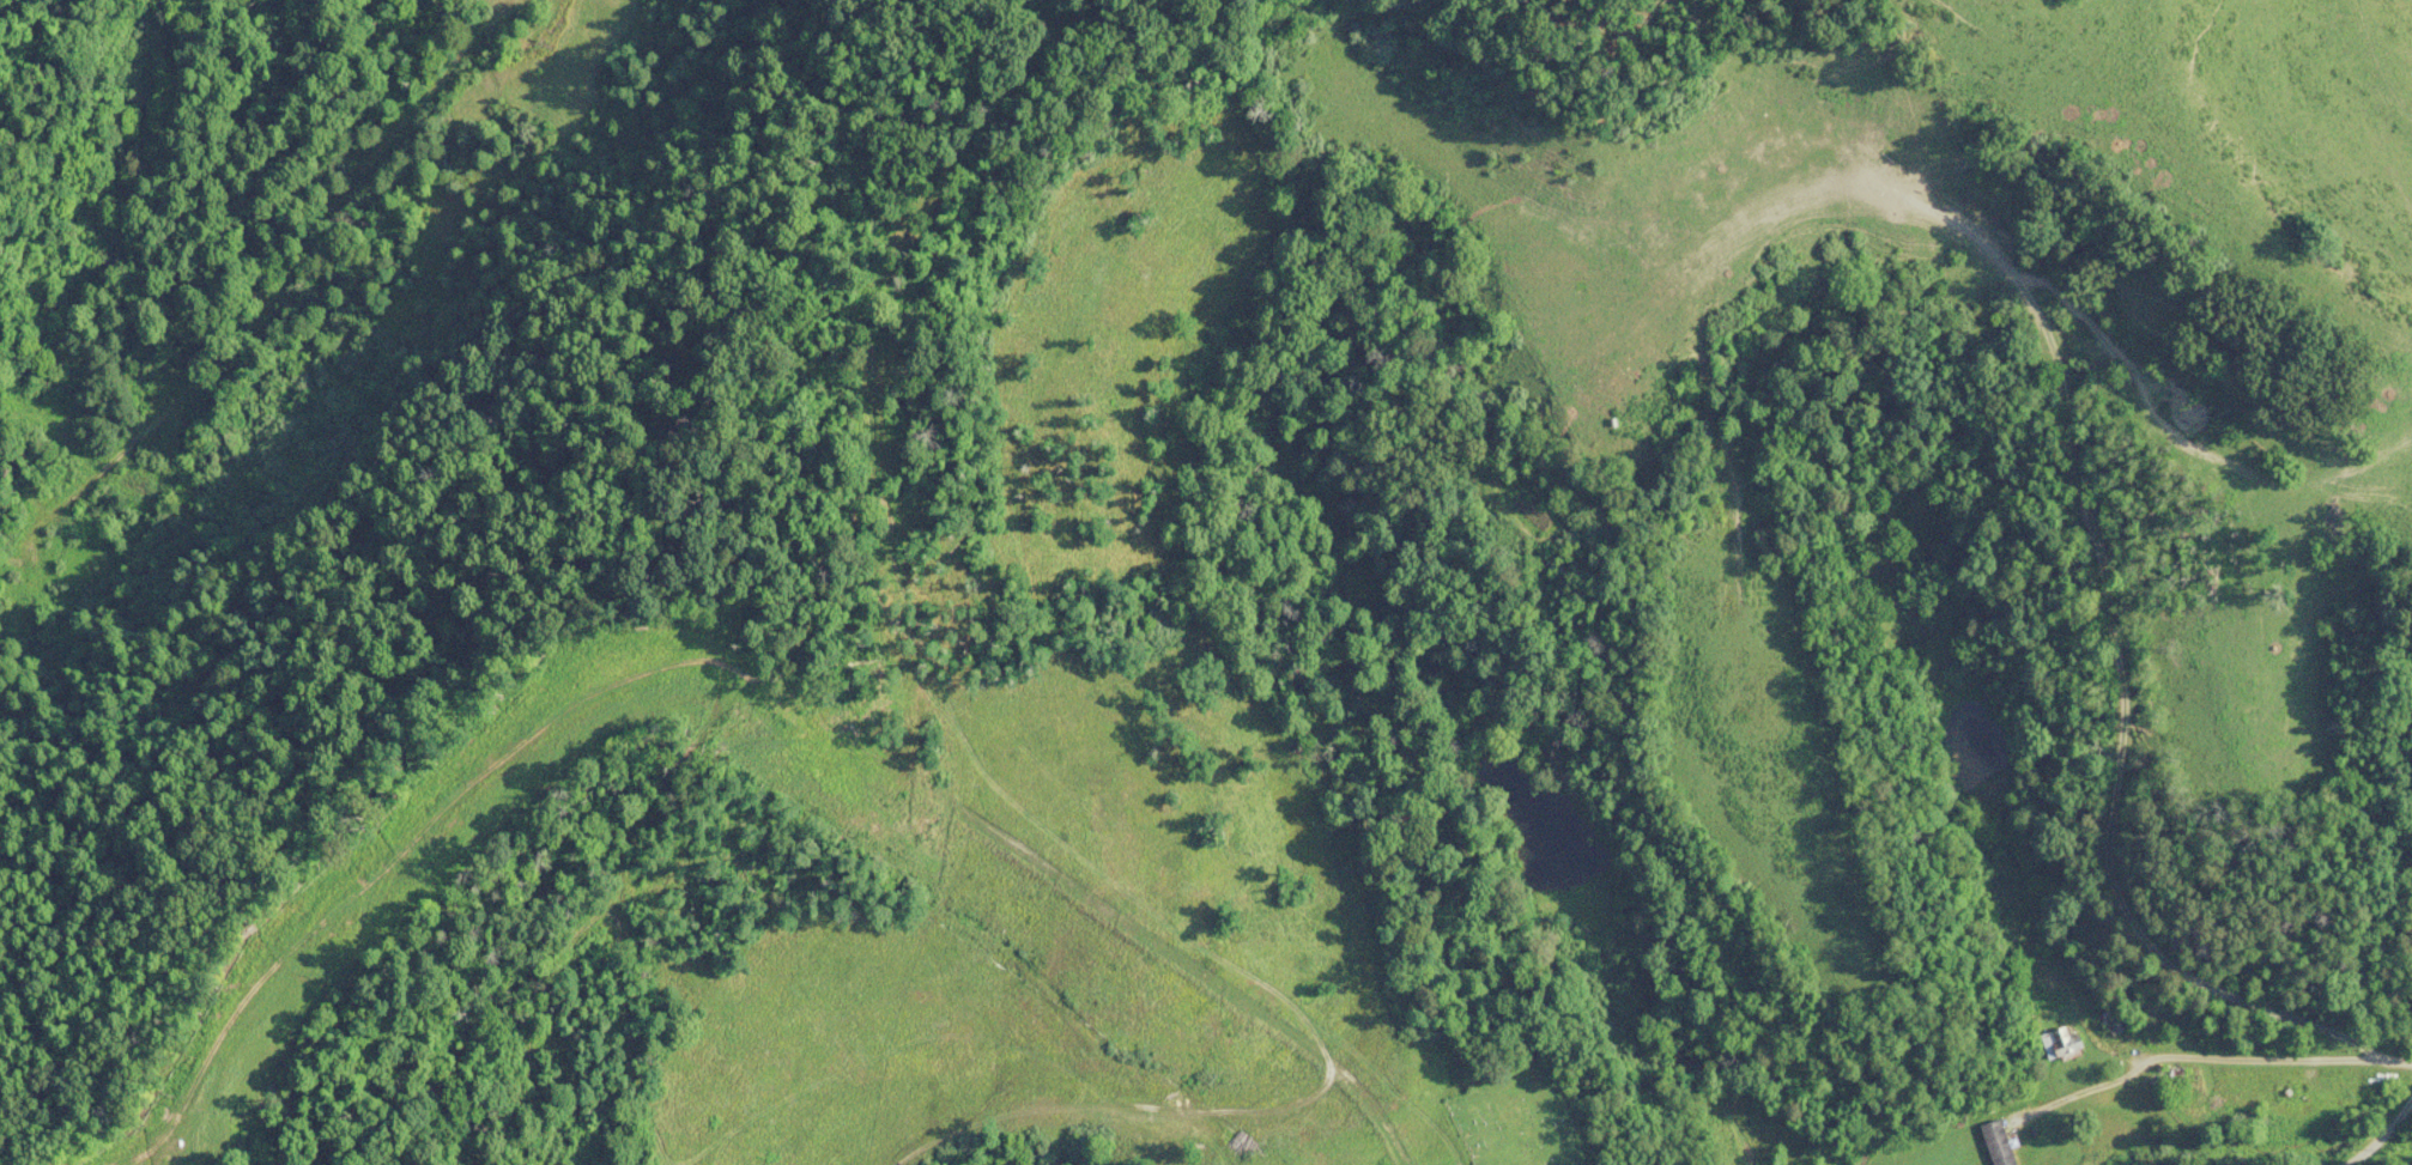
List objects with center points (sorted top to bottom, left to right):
building: (2055, 1040)
road: (2254, 1079)
building: (1993, 1141)
road: (2406, 1159)
road: (2395, 1163)

